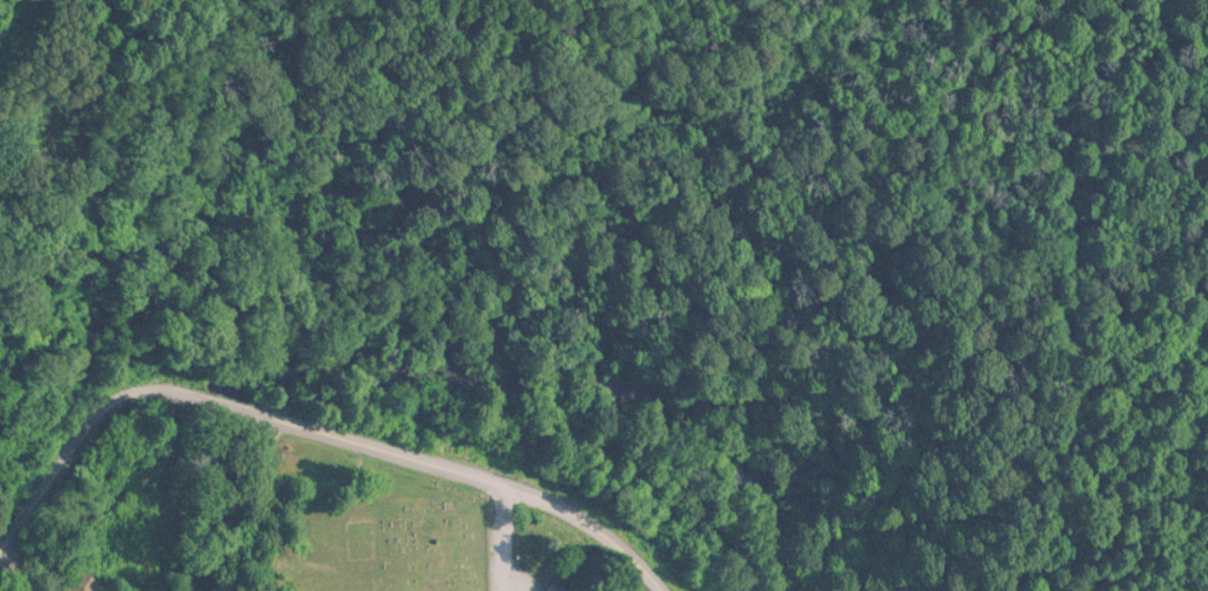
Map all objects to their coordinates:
road: (232, 409)
road: (89, 431)
road: (466, 476)
road: (188, 494)
building: (129, 523)
road: (82, 533)
road: (500, 538)
building: (86, 584)

